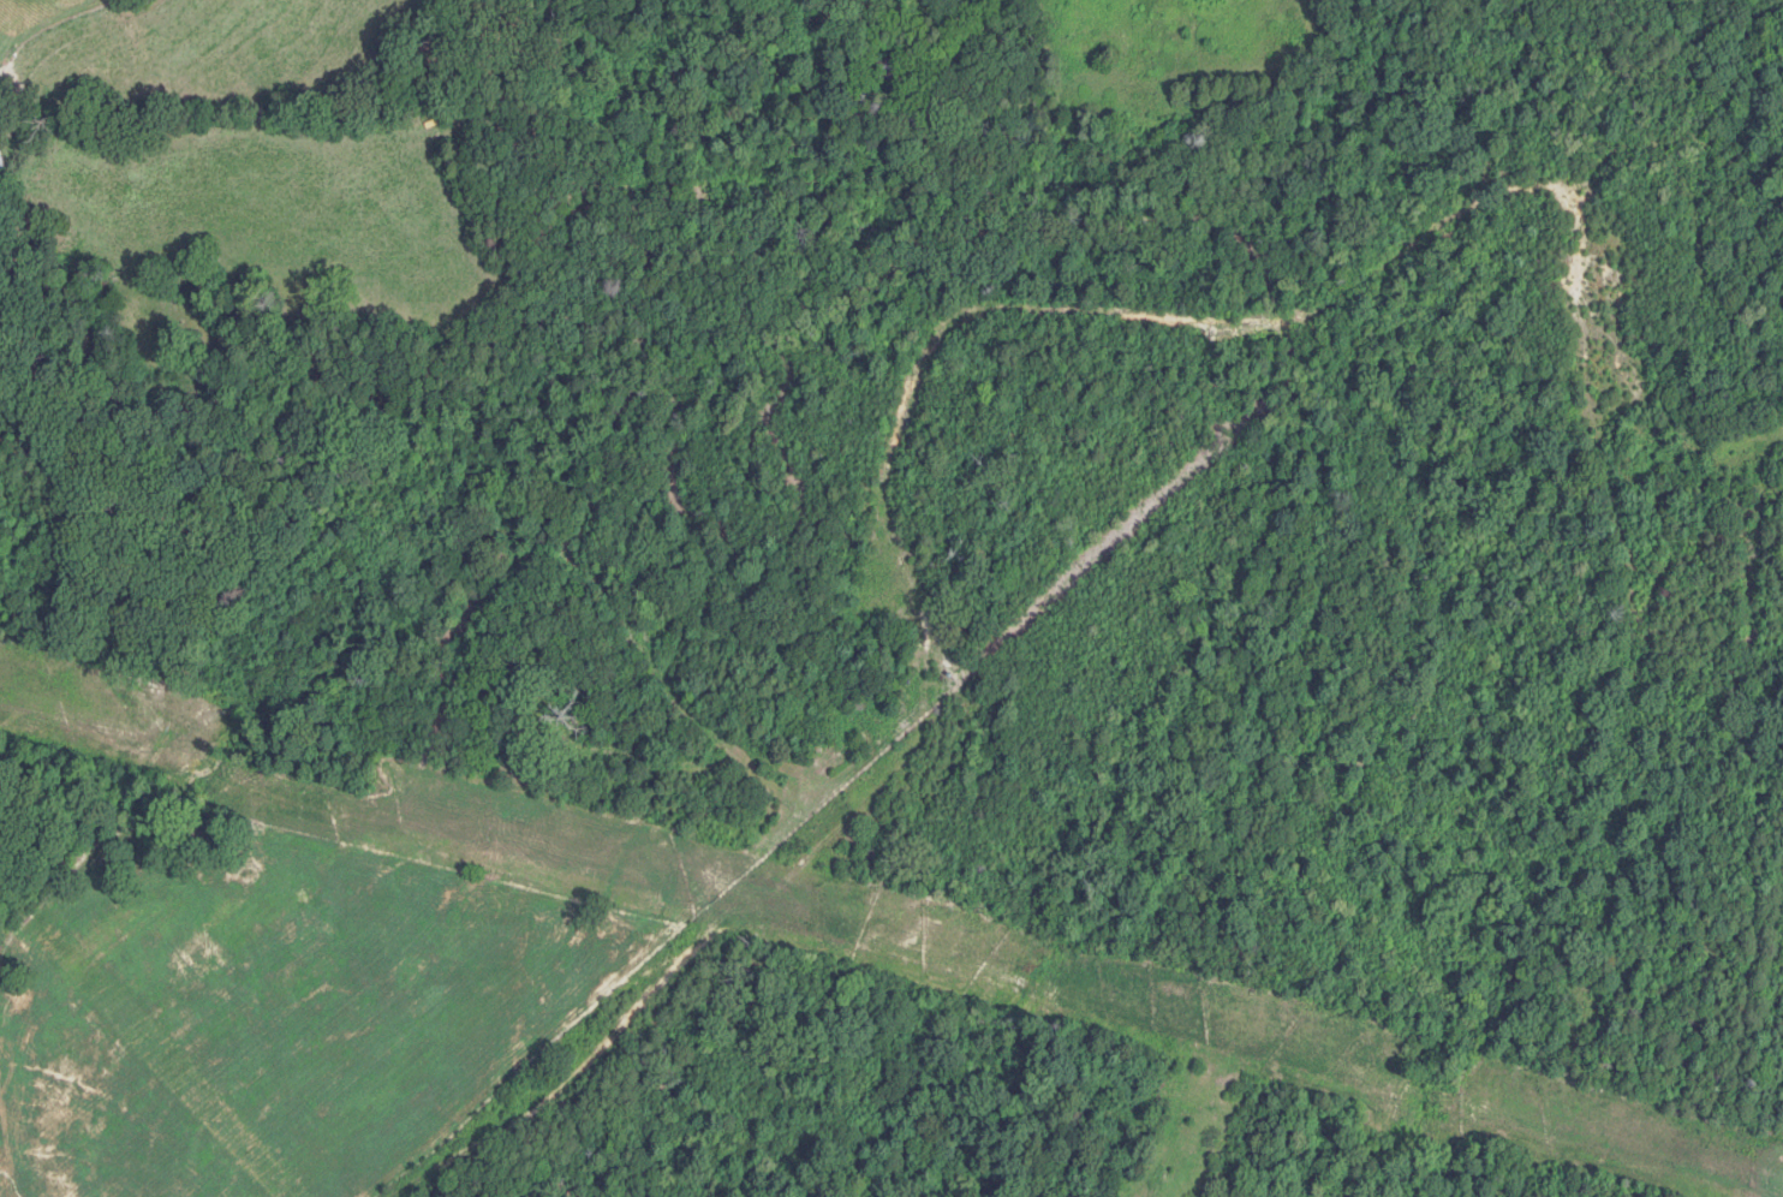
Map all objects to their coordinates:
building: (891, 70)

